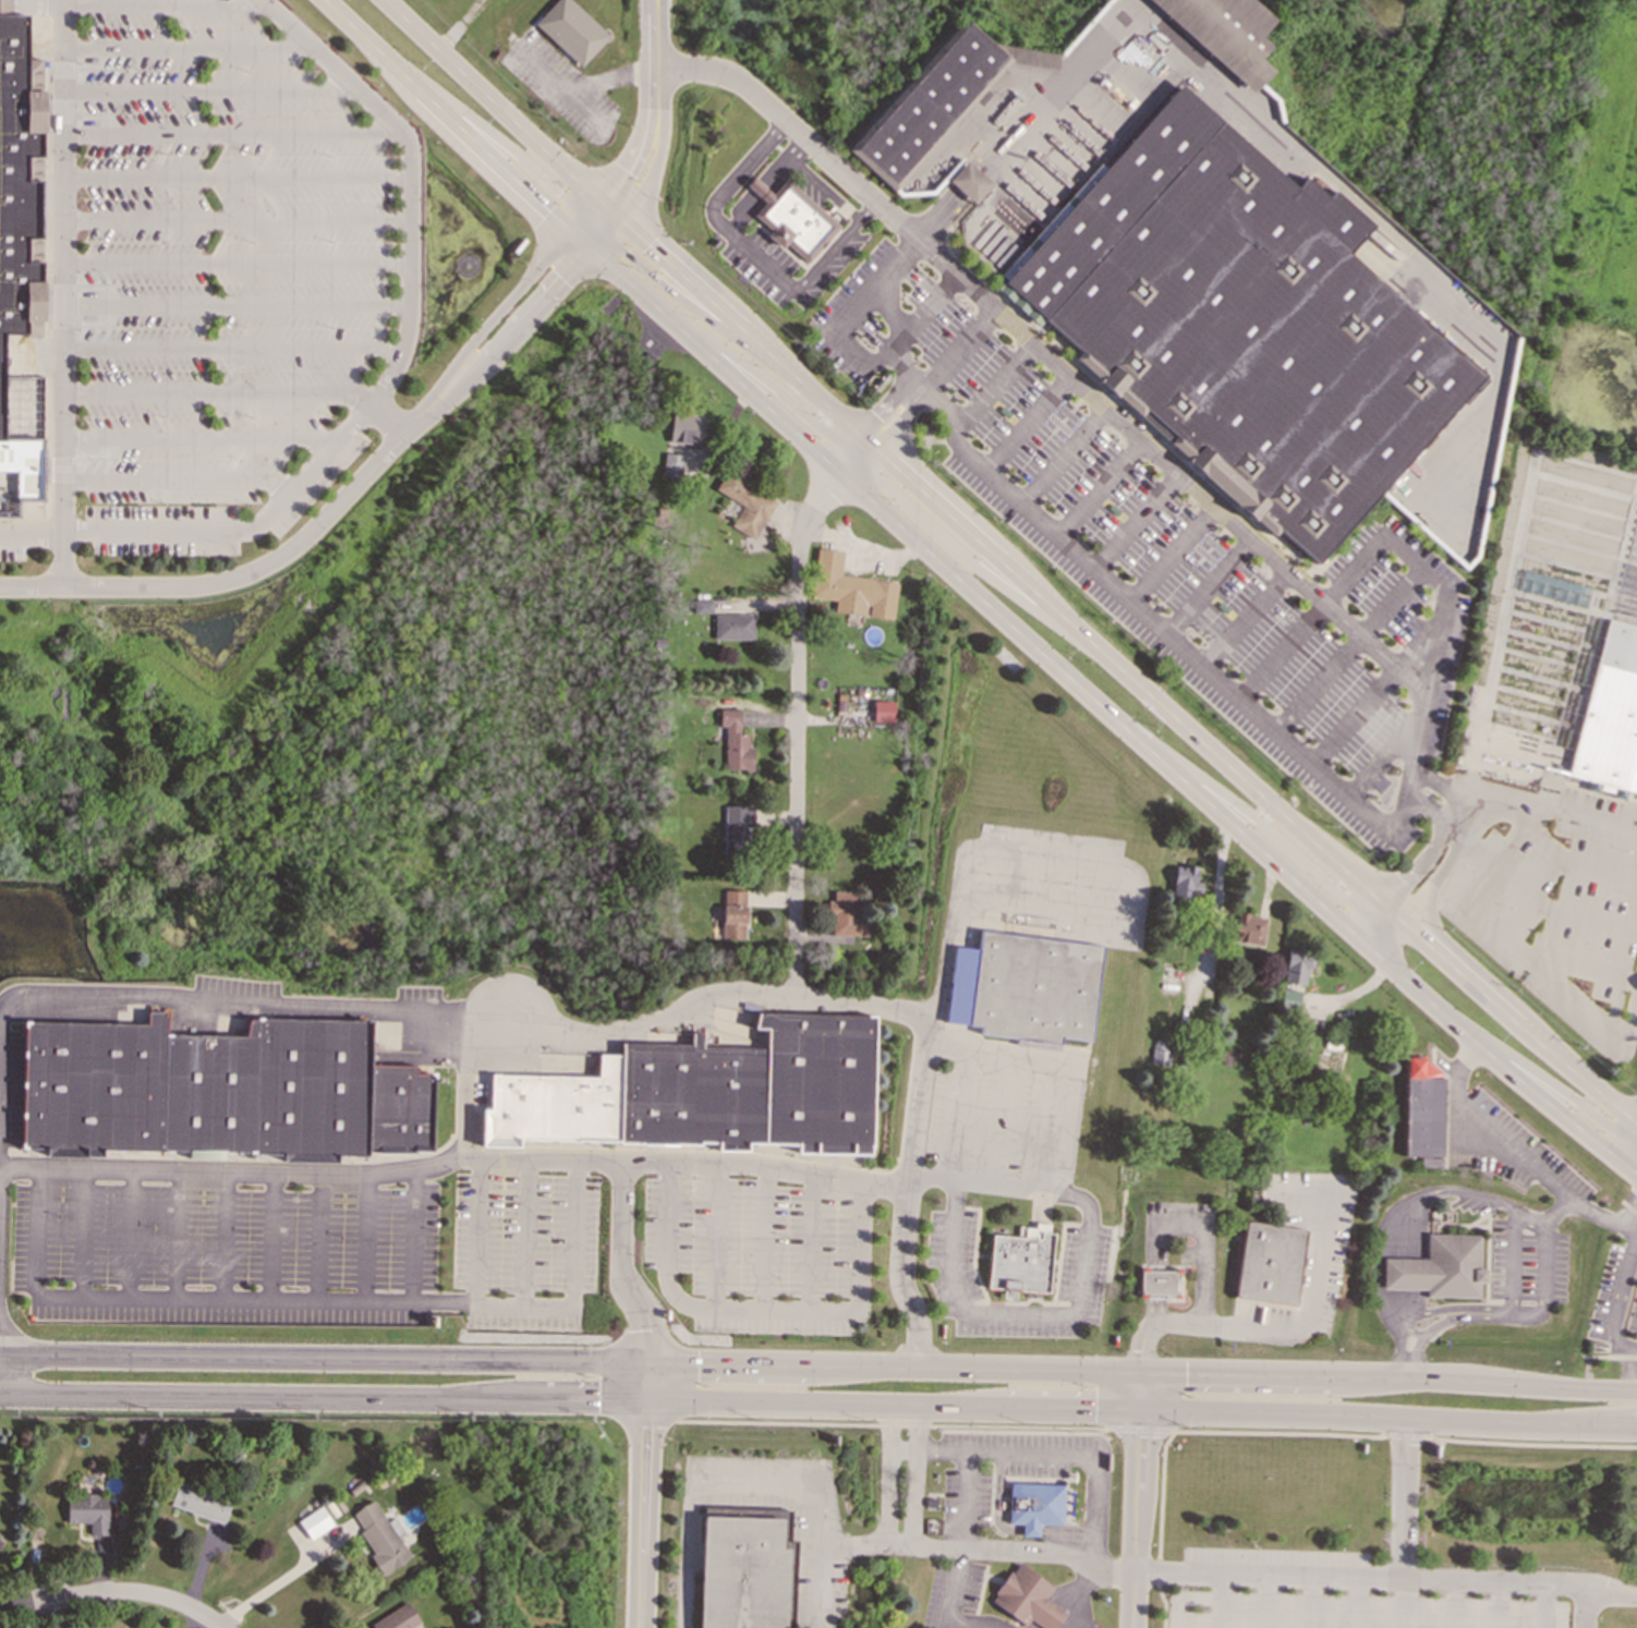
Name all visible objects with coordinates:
road: (50, 3)
road: (165, 5)
building: (571, 31)
building: (1224, 33)
road: (1096, 37)
road: (189, 49)
road: (657, 57)
road: (593, 81)
road: (210, 92)
building: (935, 99)
road: (458, 124)
road: (798, 127)
road: (230, 133)
road: (511, 148)
road: (619, 174)
building: (19, 175)
road: (235, 178)
building: (968, 182)
road: (768, 184)
road: (645, 189)
traffic signals: (599, 197)
road: (833, 198)
road: (713, 208)
building: (791, 218)
traffic signals: (623, 219)
road: (235, 220)
traffic signals: (571, 230)
parking lot: (852, 235)
traffic signals: (592, 248)
road: (826, 255)
road: (235, 263)
road: (61, 267)
road: (504, 305)
road: (235, 306)
road: (689, 307)
road: (930, 311)
road: (894, 317)
road: (522, 323)
building: (1250, 326)
road: (959, 348)
road: (231, 349)
road: (399, 357)
road: (764, 378)
road: (992, 390)
road: (216, 394)
road: (385, 418)
road: (1024, 423)
building: (684, 428)
building: (20, 438)
road: (198, 439)
road: (1060, 455)
building: (671, 465)
road: (1171, 466)
road: (179, 481)
road: (1095, 487)
building: (748, 505)
road: (1133, 521)
road: (31, 536)
road: (1053, 536)
road: (1169, 552)
parking lot: (1178, 554)
road: (286, 555)
road: (965, 557)
road: (61, 561)
road: (1009, 568)
road: (1339, 583)
road: (29, 586)
road: (1208, 586)
building: (850, 588)
building: (702, 607)
road: (1242, 618)
road: (1499, 624)
building: (733, 627)
road: (1348, 648)
road: (797, 704)
road: (1423, 706)
building: (883, 712)
road: (1114, 715)
road: (1353, 715)
building: (1612, 716)
building: (735, 742)
road: (1386, 751)
road: (1452, 788)
road: (1579, 813)
road: (1458, 814)
road: (1435, 817)
road: (1268, 827)
building: (737, 831)
road: (1557, 851)
road: (1454, 856)
road: (1406, 876)
building: (1186, 882)
building: (844, 913)
road: (1092, 913)
building: (733, 914)
road: (1375, 924)
building: (1249, 928)
building: (1297, 967)
building: (1024, 986)
building: (1290, 997)
road: (468, 1023)
building: (1160, 1053)
road: (1057, 1065)
road: (1542, 1077)
building: (219, 1090)
building: (708, 1090)
building: (1422, 1113)
road: (955, 1114)
road: (1004, 1121)
road: (1507, 1150)
road: (1627, 1153)
road: (453, 1158)
road: (1430, 1190)
road: (906, 1200)
road: (1628, 1207)
road: (1630, 1213)
road: (1526, 1216)
road: (1632, 1226)
road: (480, 1230)
road: (83, 1232)
road: (526, 1232)
road: (131, 1234)
road: (180, 1235)
road: (226, 1235)
road: (272, 1235)
road: (413, 1235)
road: (717, 1235)
road: (320, 1236)
road: (368, 1236)
road: (767, 1238)
road: (815, 1242)
parking lot: (312, 1251)
road: (1204, 1251)
building: (1021, 1258)
road: (1509, 1260)
building: (1271, 1262)
road: (622, 1267)
building: (1440, 1268)
road: (1400, 1274)
road: (1154, 1275)
building: (1156, 1280)
road: (1538, 1283)
road: (1618, 1291)
road: (1083, 1293)
road: (311, 1299)
road: (761, 1308)
road: (1432, 1308)
road: (1285, 1327)
road: (1409, 1332)
road: (1420, 1333)
road: (1399, 1335)
road: (1609, 1356)
traffic signals: (651, 1368)
road: (818, 1368)
road: (1628, 1369)
traffic signals: (1140, 1378)
traffic signals: (652, 1402)
road: (818, 1405)
traffic signals: (1139, 1413)
road: (881, 1423)
road: (1139, 1430)
road: (1178, 1431)
road: (1405, 1436)
road: (1529, 1442)
road: (996, 1451)
road: (888, 1477)
road: (918, 1477)
road: (707, 1485)
road: (648, 1497)
road: (1403, 1498)
road: (967, 1501)
building: (199, 1503)
road: (1136, 1503)
building: (1036, 1507)
building: (88, 1510)
road: (1096, 1518)
building: (314, 1522)
building: (379, 1538)
road: (981, 1551)
building: (750, 1574)
road: (1386, 1576)
road: (825, 1587)
road: (277, 1588)
road: (140, 1592)
road: (1082, 1594)
parking lot: (1337, 1595)
road: (1183, 1597)
building: (1029, 1599)
road: (1218, 1599)
road: (1264, 1600)
road: (955, 1601)
road: (1312, 1601)
road: (1358, 1602)
road: (1400, 1602)
road: (25, 1603)
road: (1453, 1603)
road: (1499, 1604)
road: (1544, 1605)
road: (1584, 1607)
building: (397, 1618)

